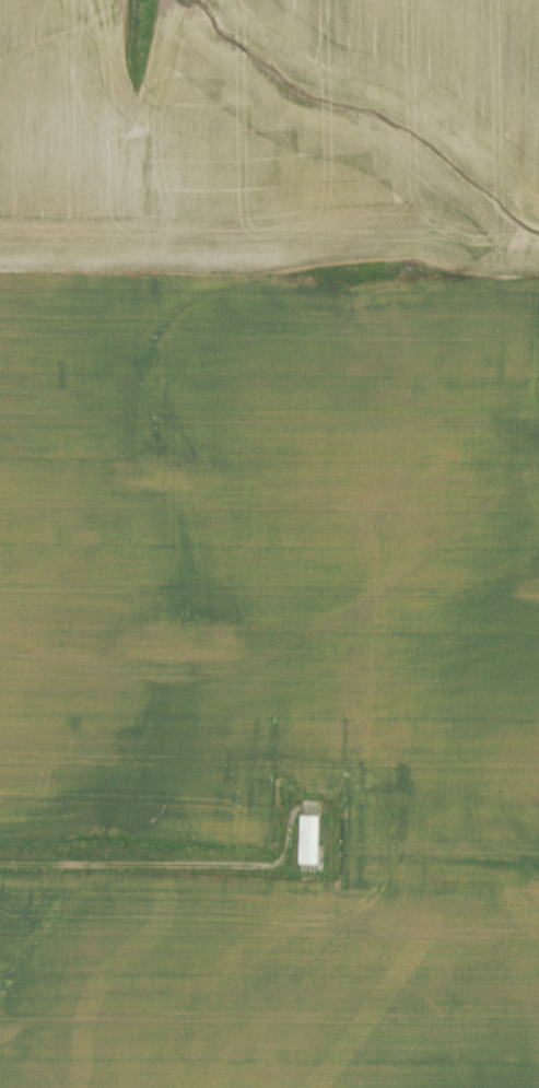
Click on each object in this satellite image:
building: (308, 841)

